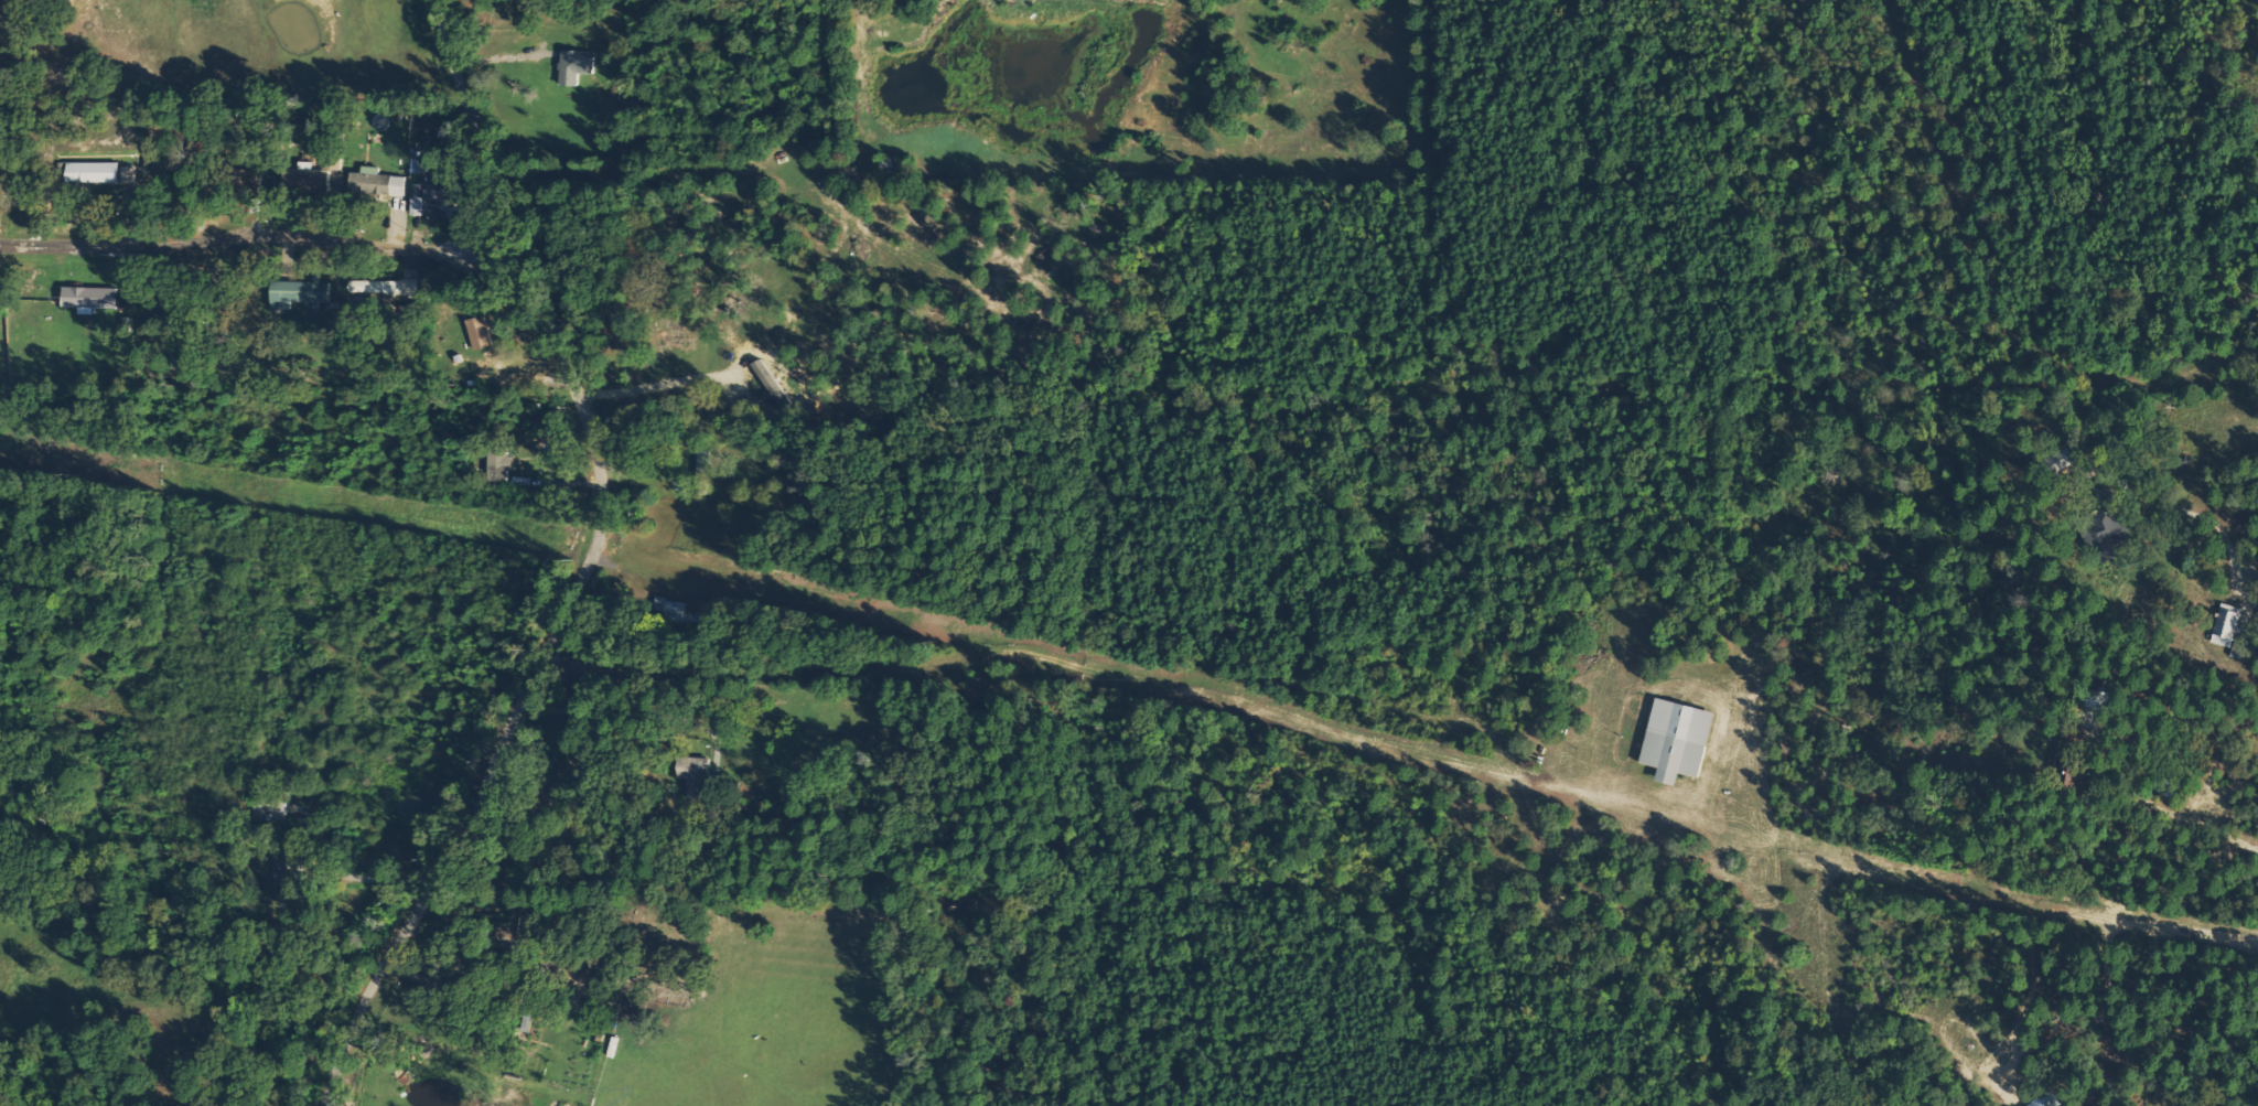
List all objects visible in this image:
building: (577, 65)
building: (171, 167)
building: (95, 172)
building: (130, 173)
building: (308, 178)
building: (380, 183)
building: (436, 194)
road: (245, 239)
building: (385, 287)
building: (302, 293)
building: (92, 298)
building: (128, 299)
building: (482, 333)
building: (501, 465)
building: (523, 482)
building: (2118, 527)
road: (591, 567)
building: (689, 618)
building: (2222, 625)
building: (1680, 740)
building: (697, 775)
road: (2208, 829)
building: (286, 866)

